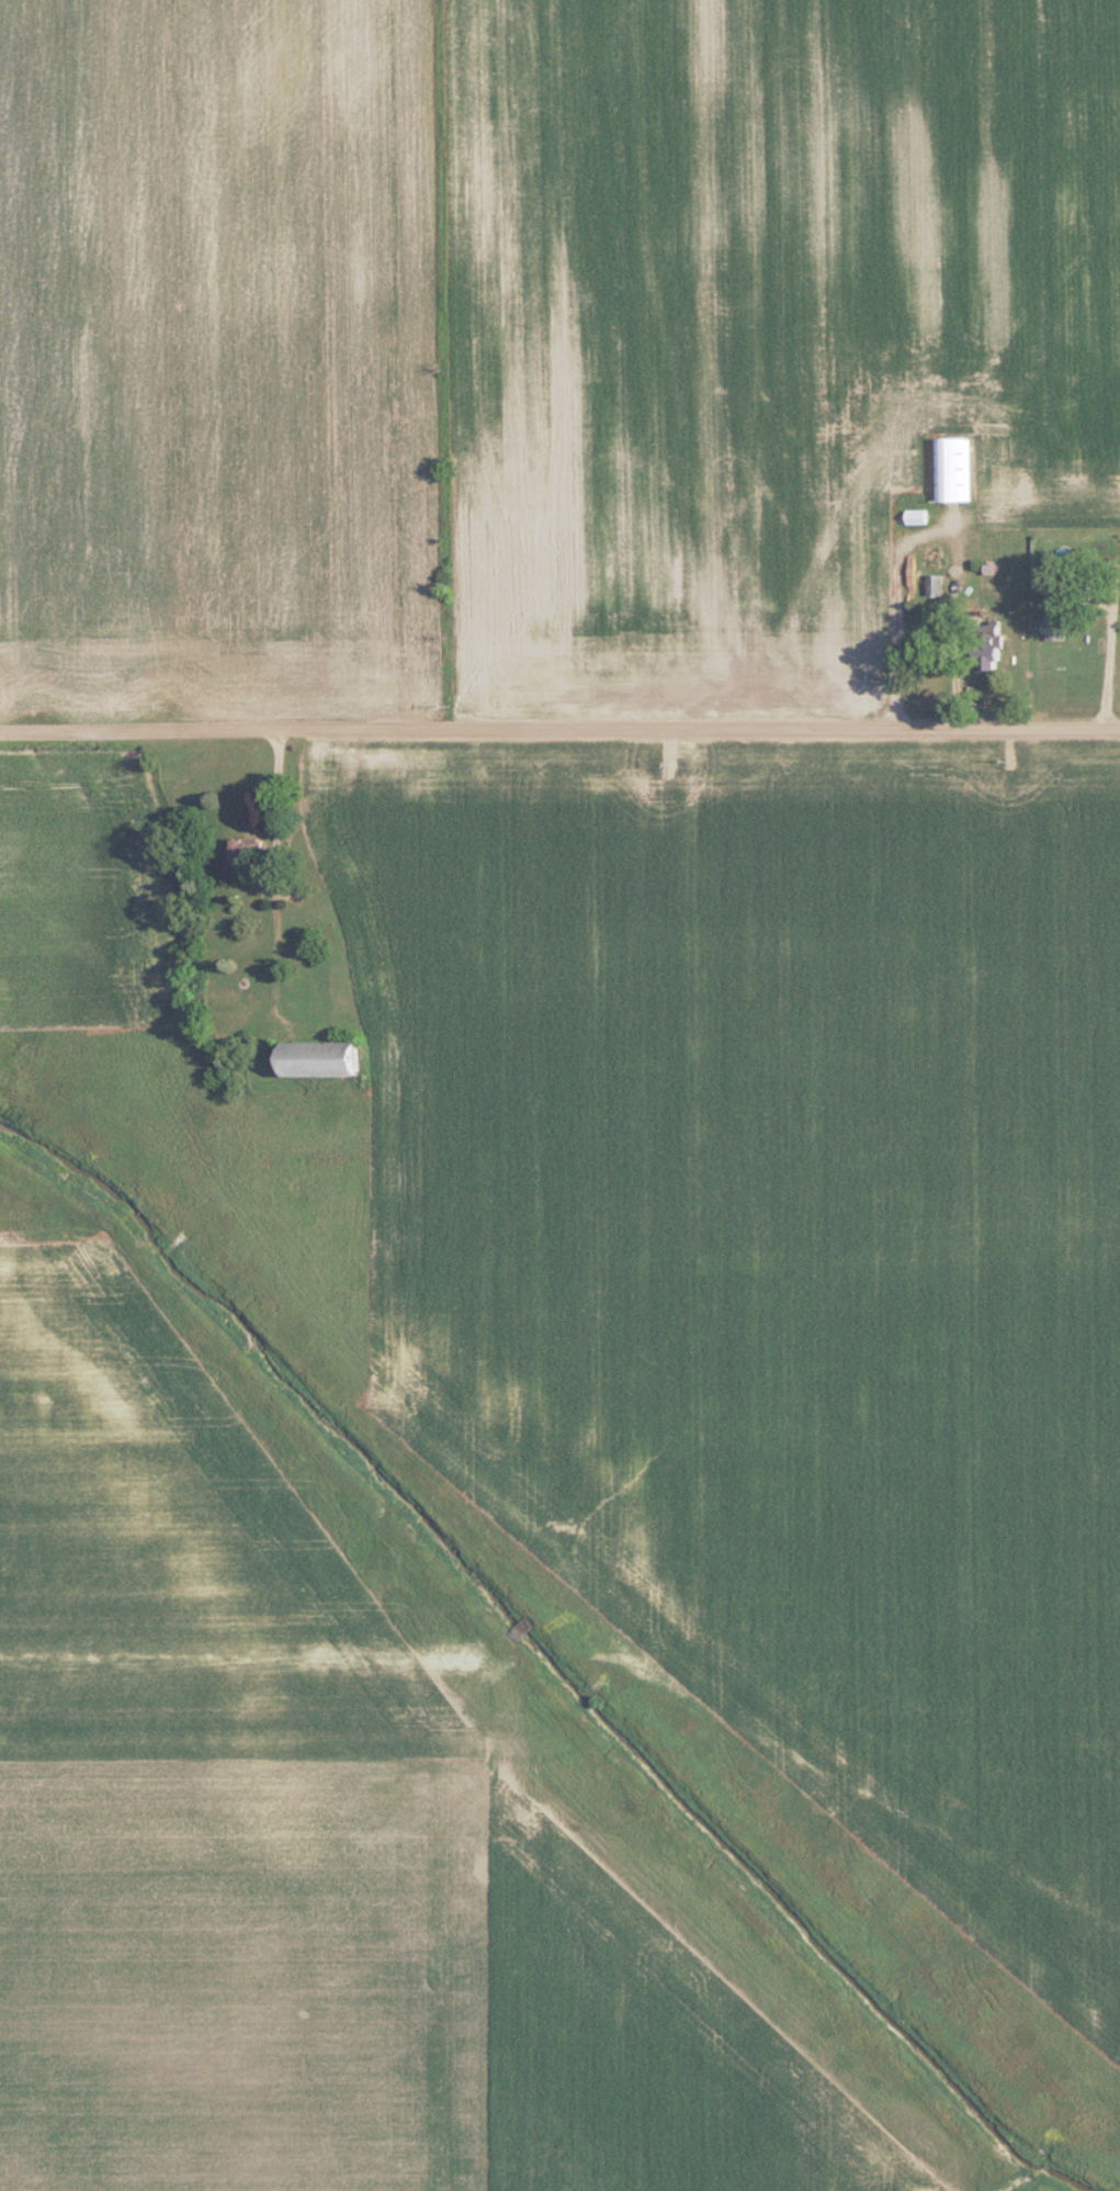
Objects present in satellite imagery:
building: (952, 470)
building: (934, 586)
building: (1054, 617)
building: (986, 645)
road: (559, 732)
road: (275, 801)
building: (245, 850)
building: (316, 1059)

